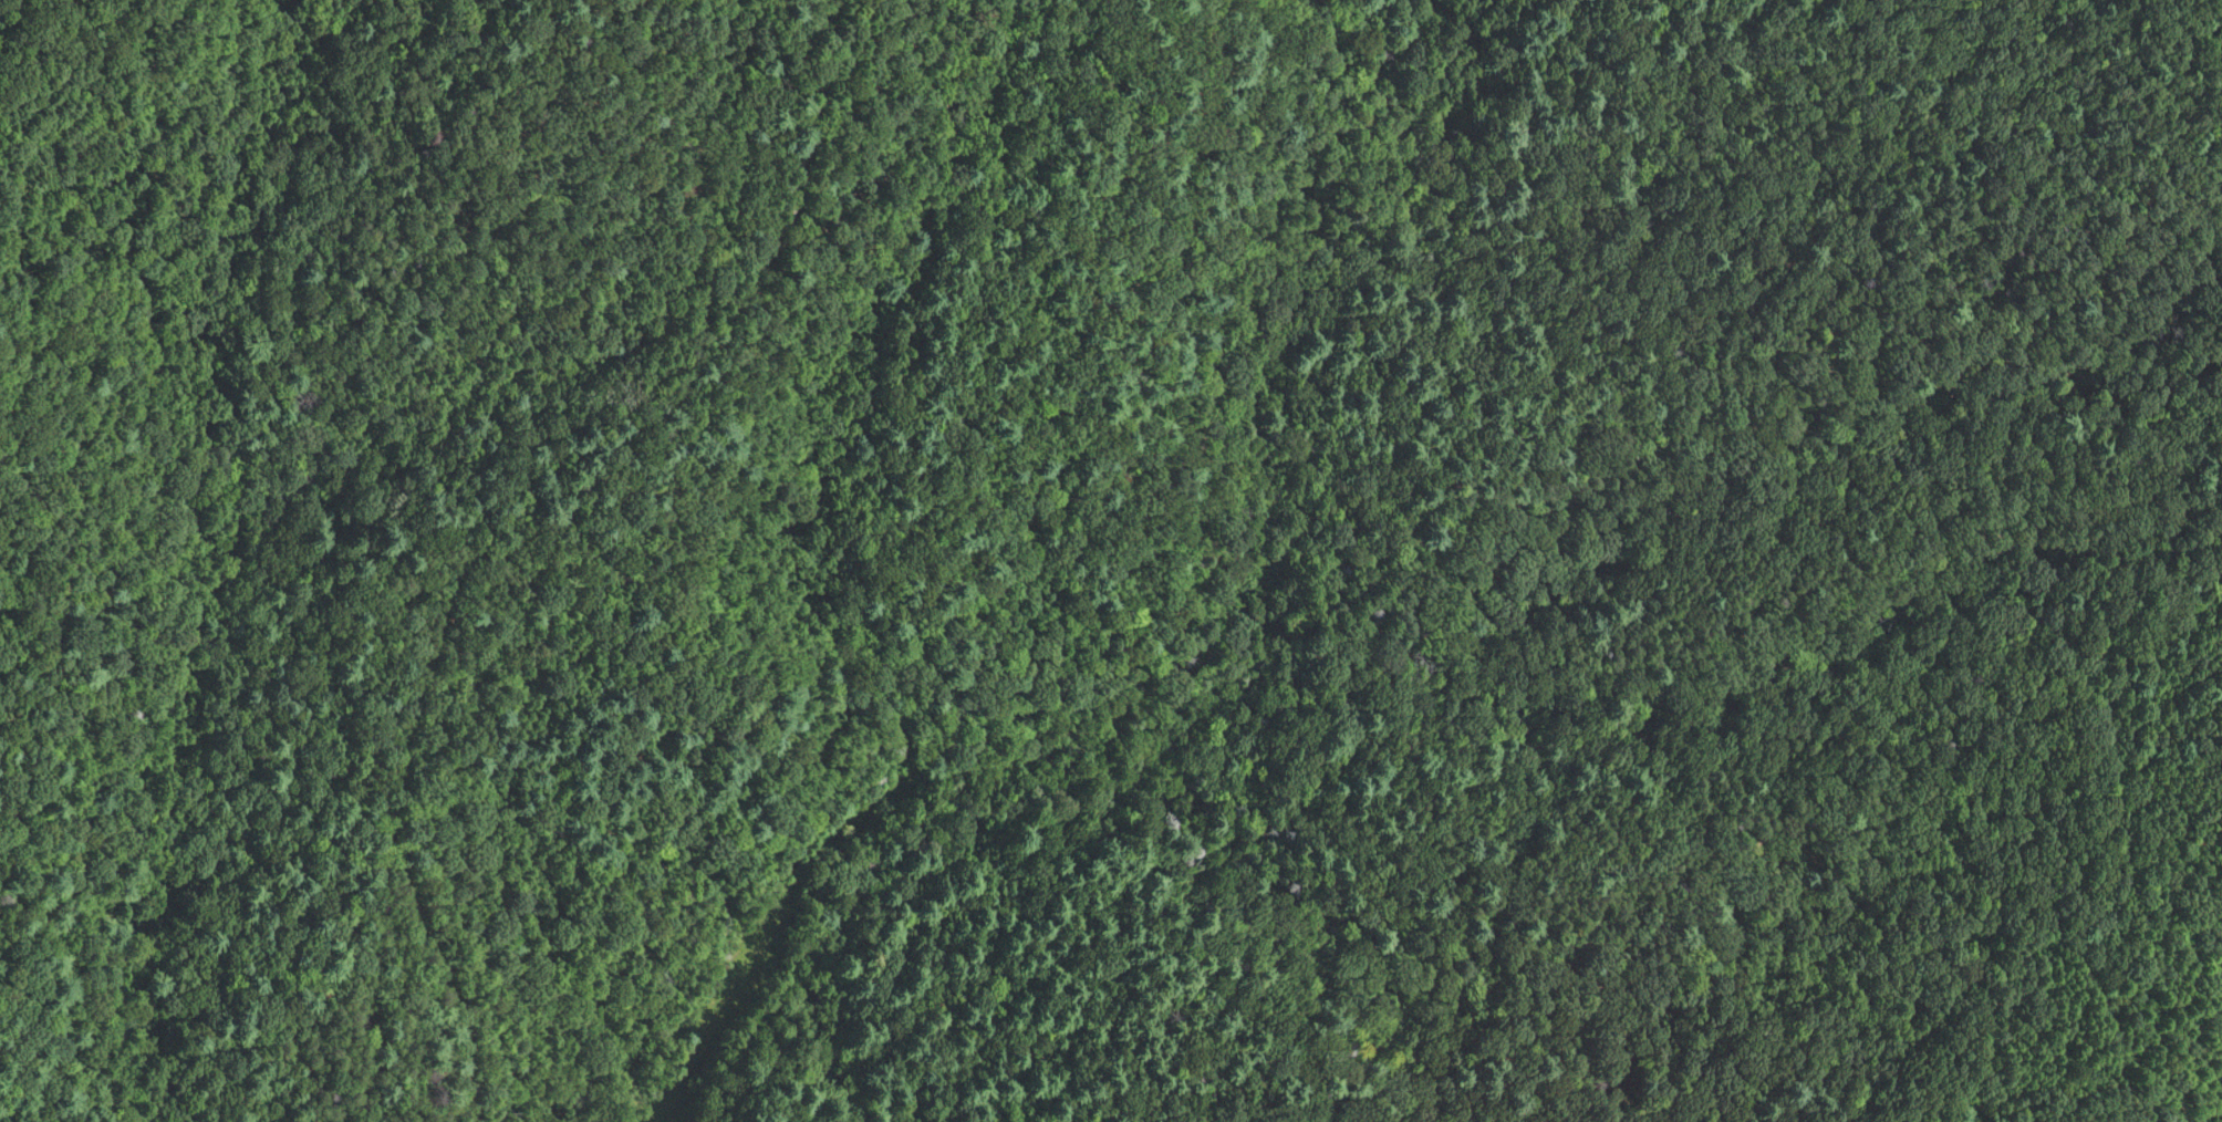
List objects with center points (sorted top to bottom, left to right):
park: (2183, 1048)

